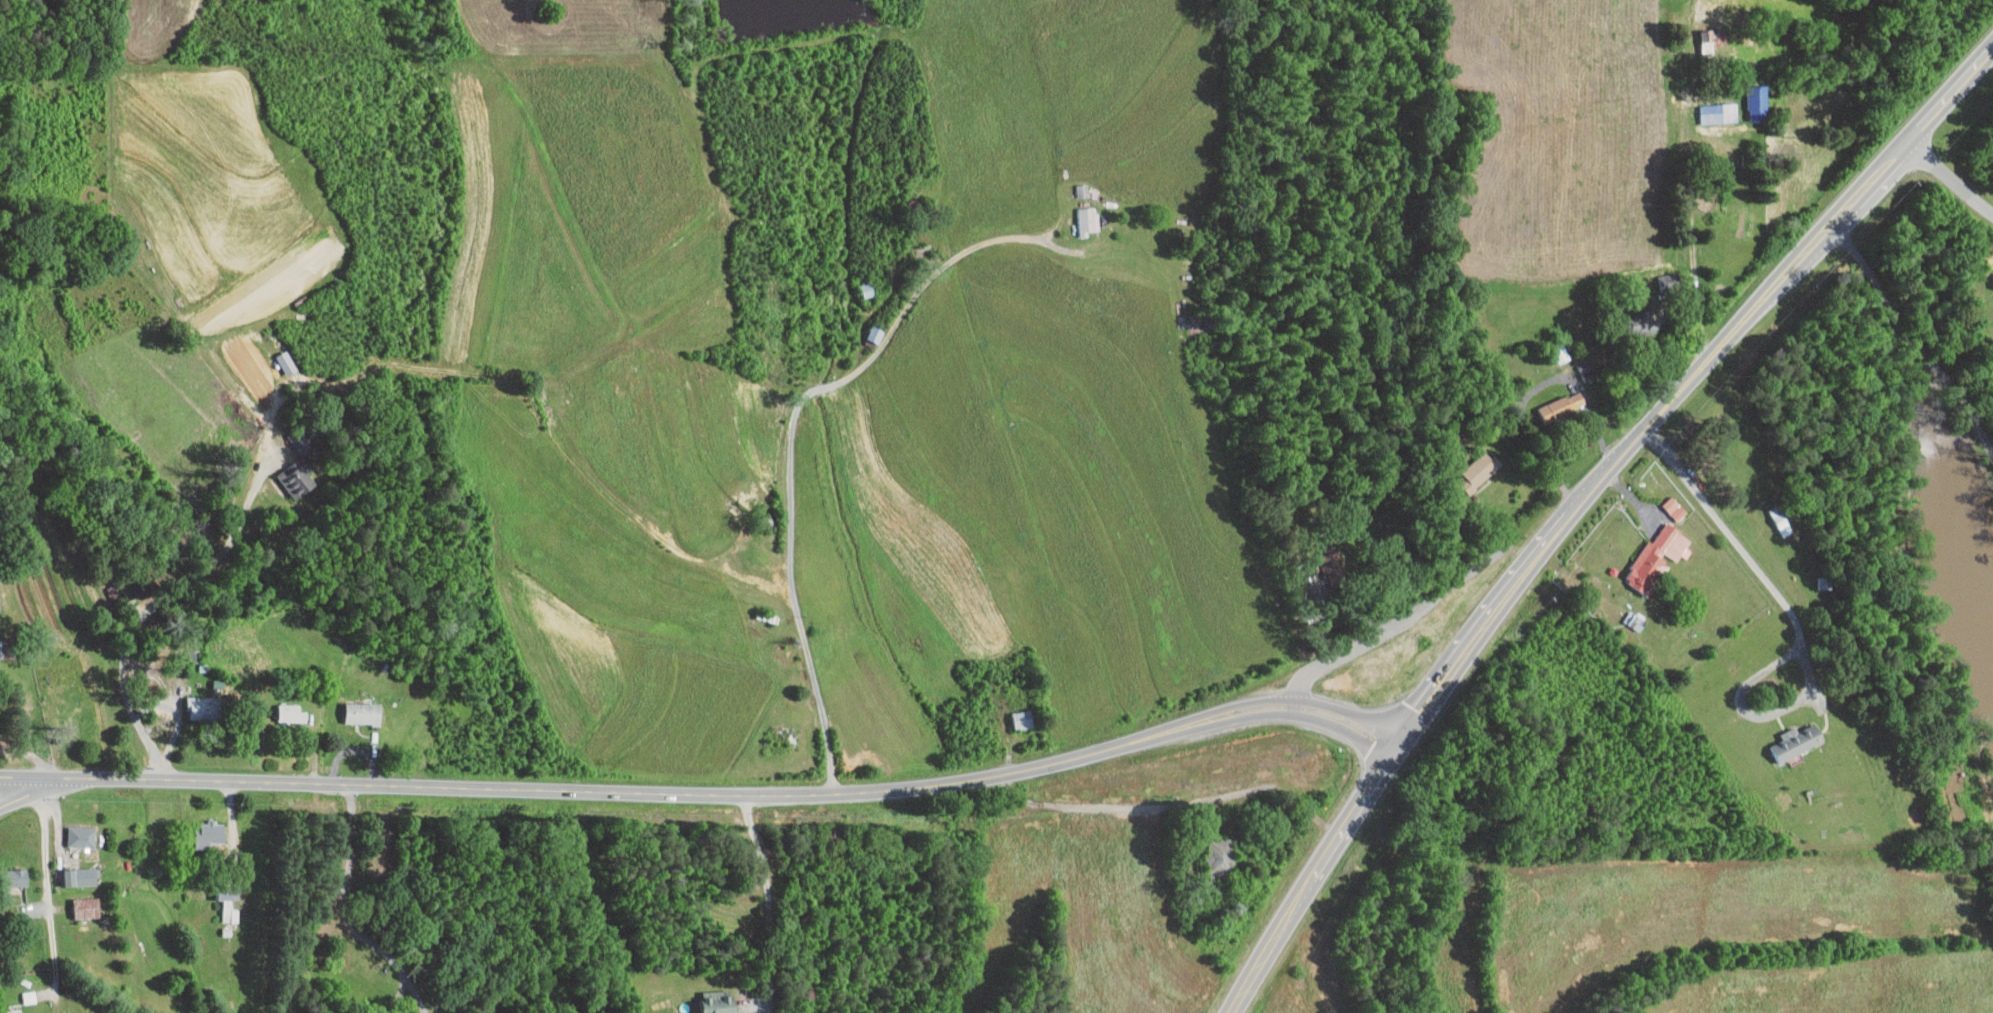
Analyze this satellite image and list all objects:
building: (1707, 46)
building: (1756, 102)
building: (1718, 112)
road: (1911, 135)
road: (1949, 178)
building: (1077, 214)
building: (1671, 279)
building: (1197, 322)
building: (1644, 323)
road: (1909, 339)
road: (1723, 345)
building: (1561, 406)
road: (793, 445)
building: (1478, 470)
building: (287, 473)
building: (1674, 508)
building: (1657, 558)
building: (1329, 559)
road: (154, 605)
road: (1503, 605)
road: (1796, 621)
road: (1396, 625)
building: (196, 701)
building: (283, 707)
building: (355, 707)
road: (1316, 711)
building: (1012, 713)
building: (1797, 742)
traffic signals: (1398, 750)
road: (23, 791)
road: (617, 792)
building: (1784, 801)
building: (201, 827)
building: (71, 831)
building: (1219, 858)
building: (72, 871)
road: (1312, 879)
road: (47, 883)
road: (344, 893)
building: (78, 902)
road: (768, 904)
building: (219, 906)
road: (397, 995)
road: (416, 995)
building: (708, 997)

